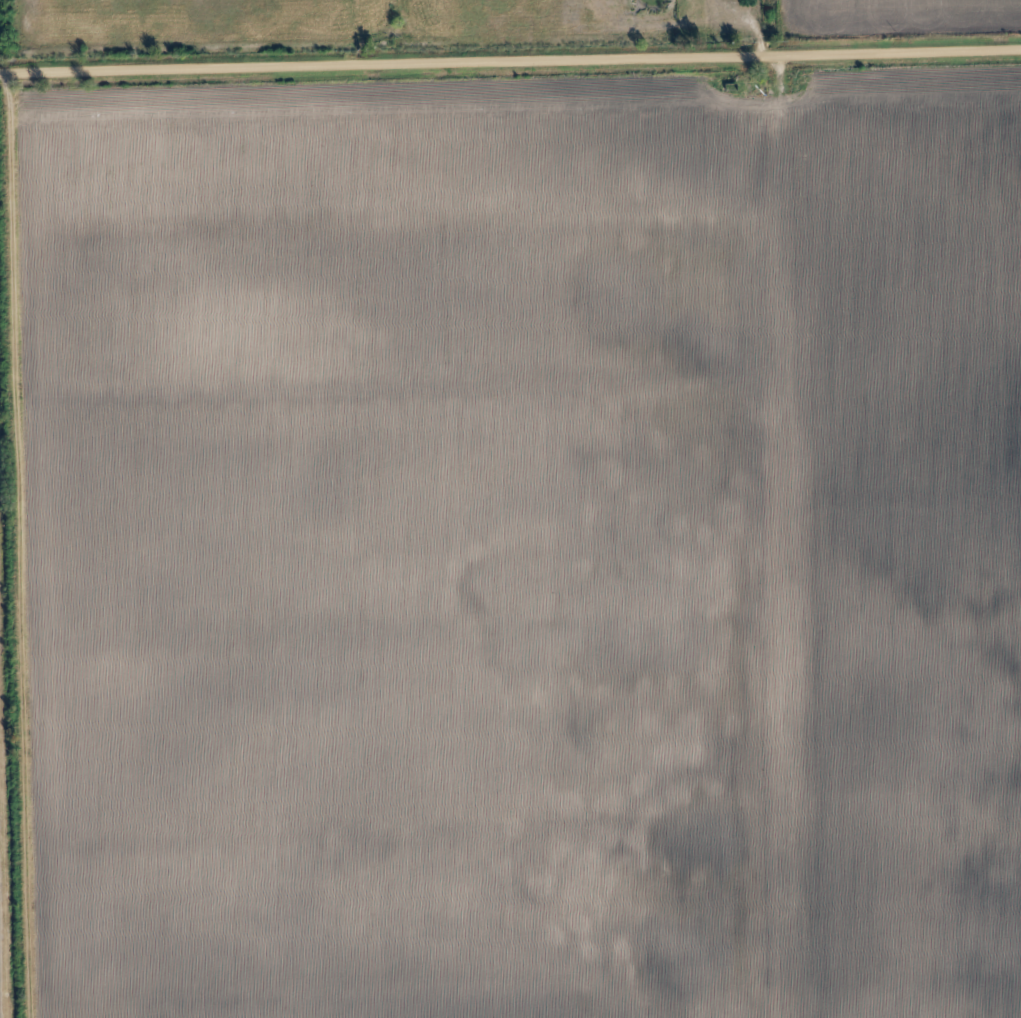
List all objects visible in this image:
road: (751, 16)
road: (510, 59)

